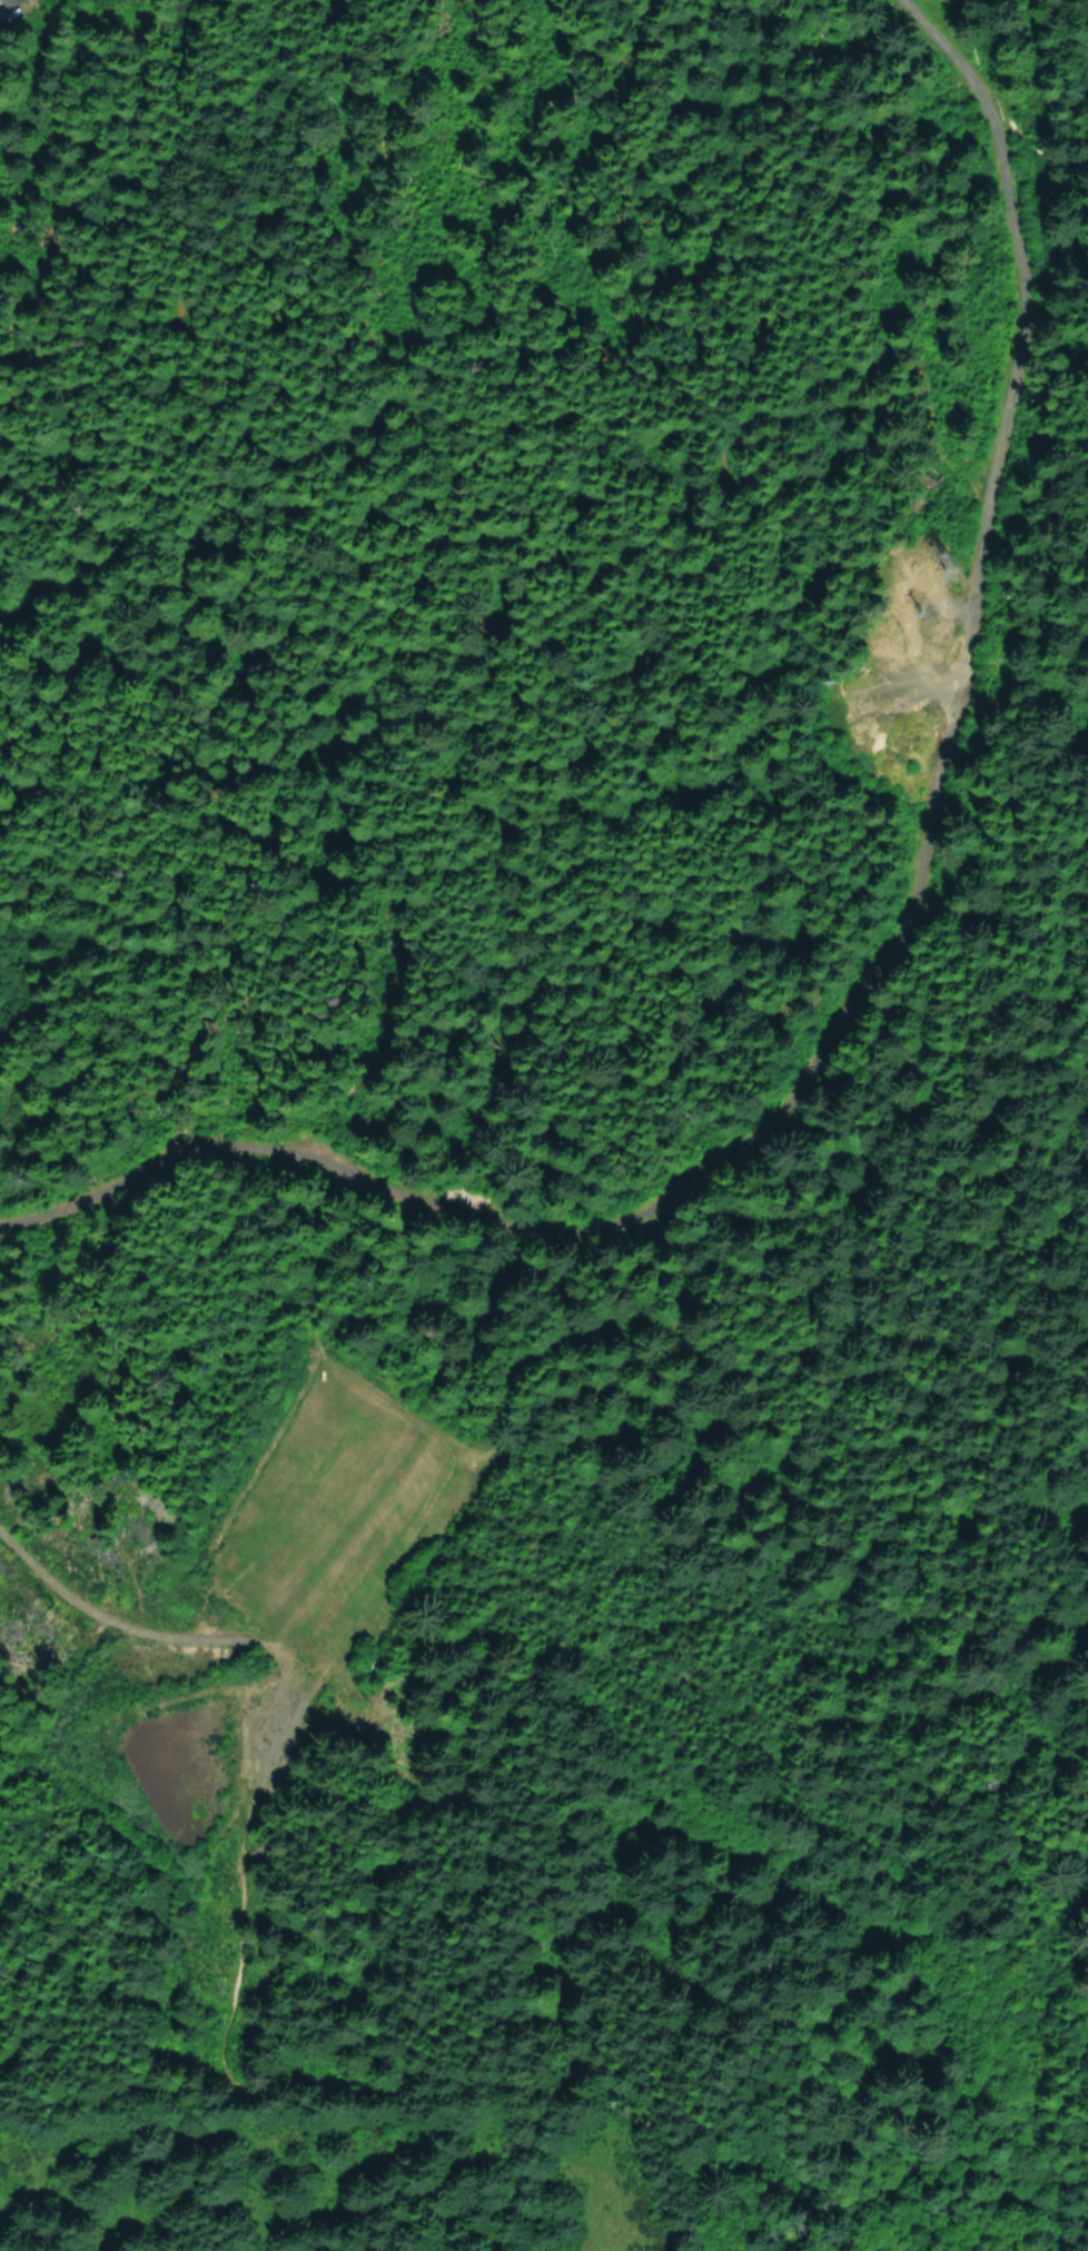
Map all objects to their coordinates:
road: (1069, 7)
road: (1012, 240)
road: (824, 266)
road: (742, 390)
road: (970, 592)
road: (831, 665)
road: (997, 700)
park: (1008, 890)
road: (1068, 1196)
road: (623, 1212)
road: (843, 1228)
road: (971, 1475)
road: (749, 1574)
road: (311, 1687)
road: (116, 2046)
road: (521, 2075)
road: (602, 2169)

